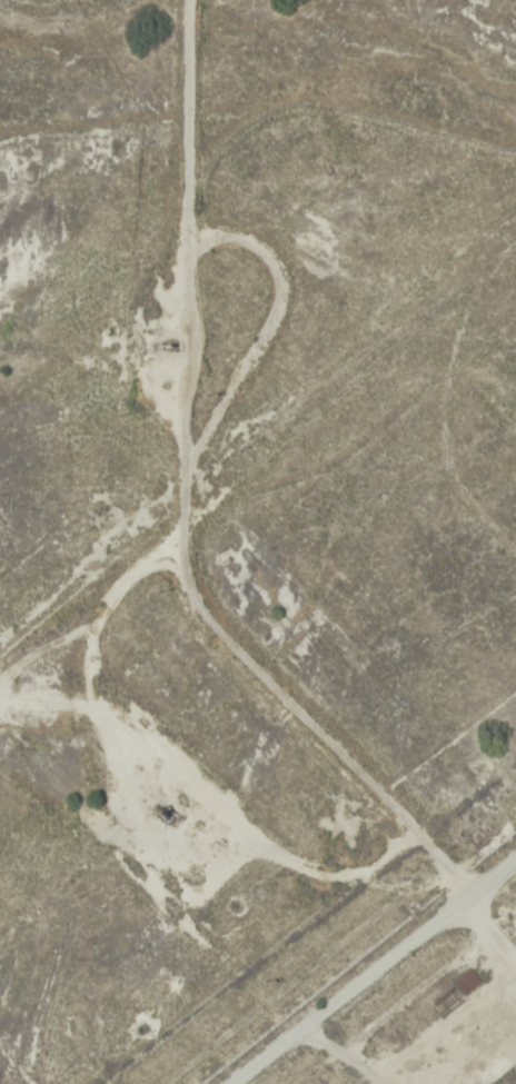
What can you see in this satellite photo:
road: (270, 506)
road: (257, 549)
road: (366, 959)

